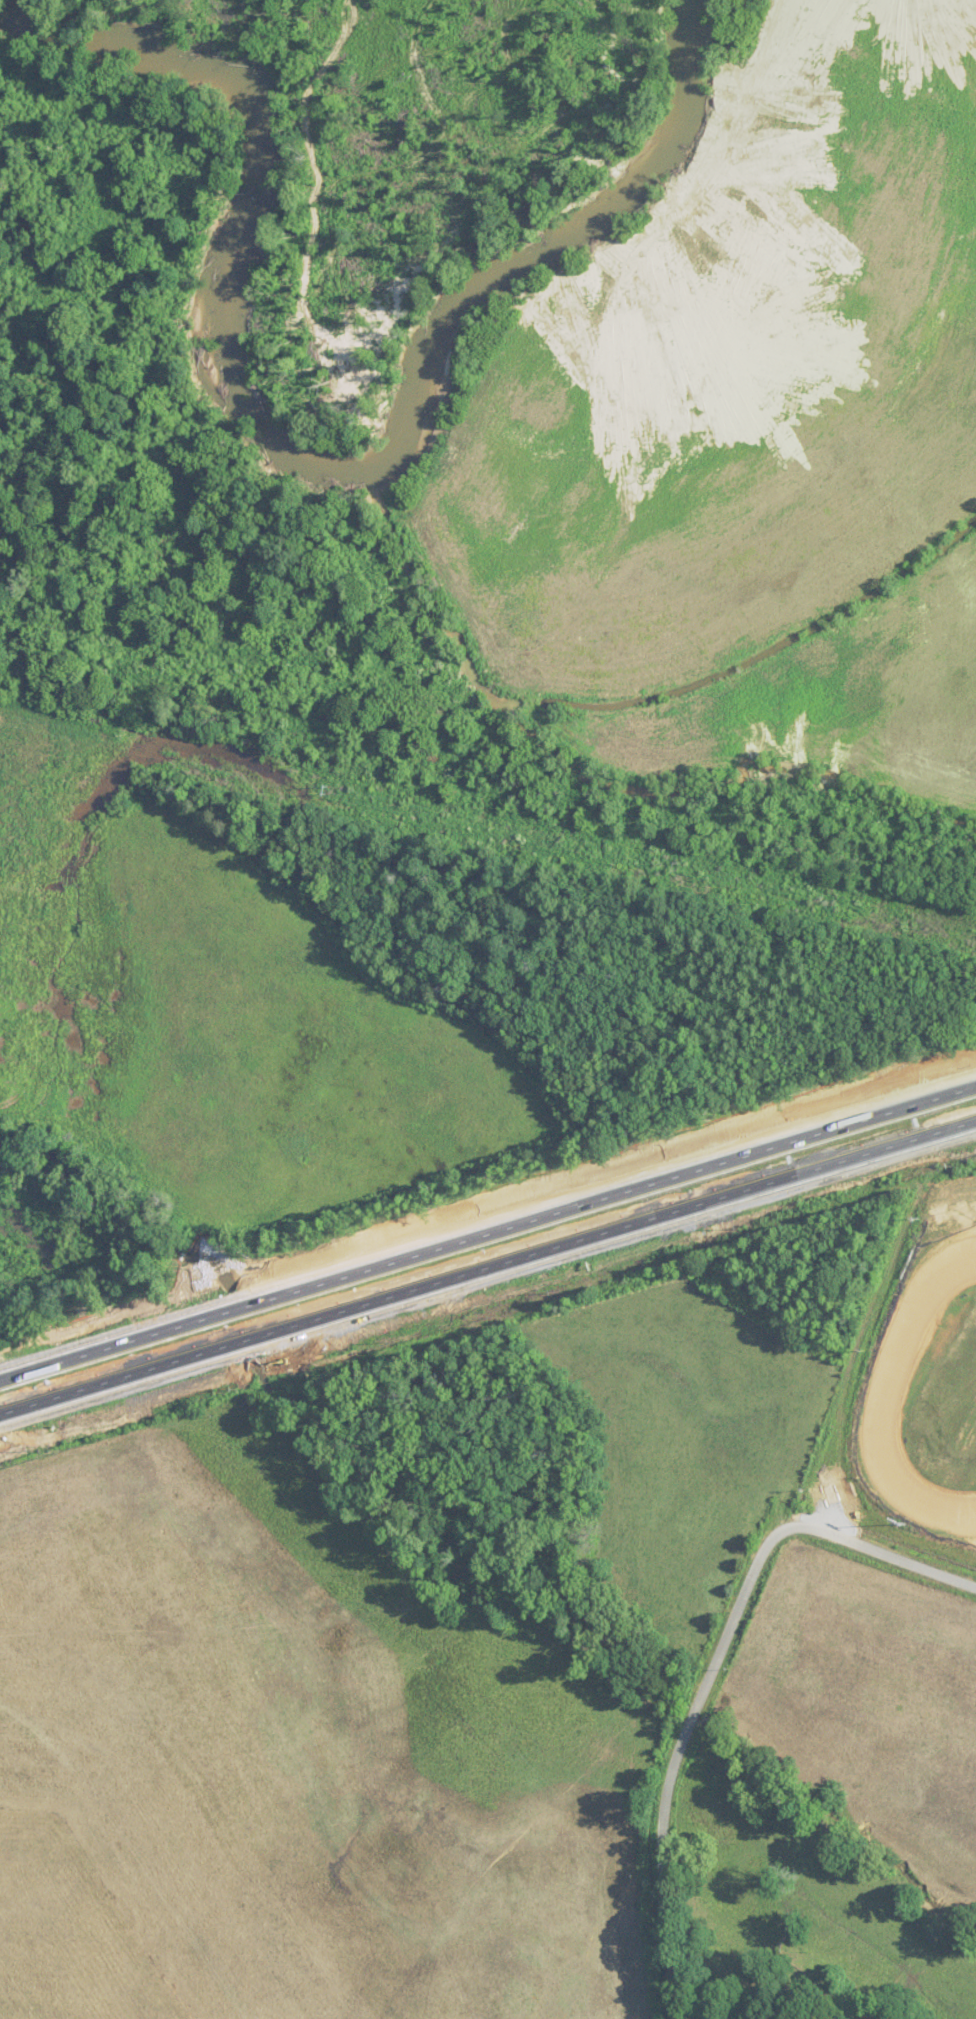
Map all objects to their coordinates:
road: (488, 1235)
road: (488, 1264)
raceway: (884, 1395)
road: (714, 1670)

